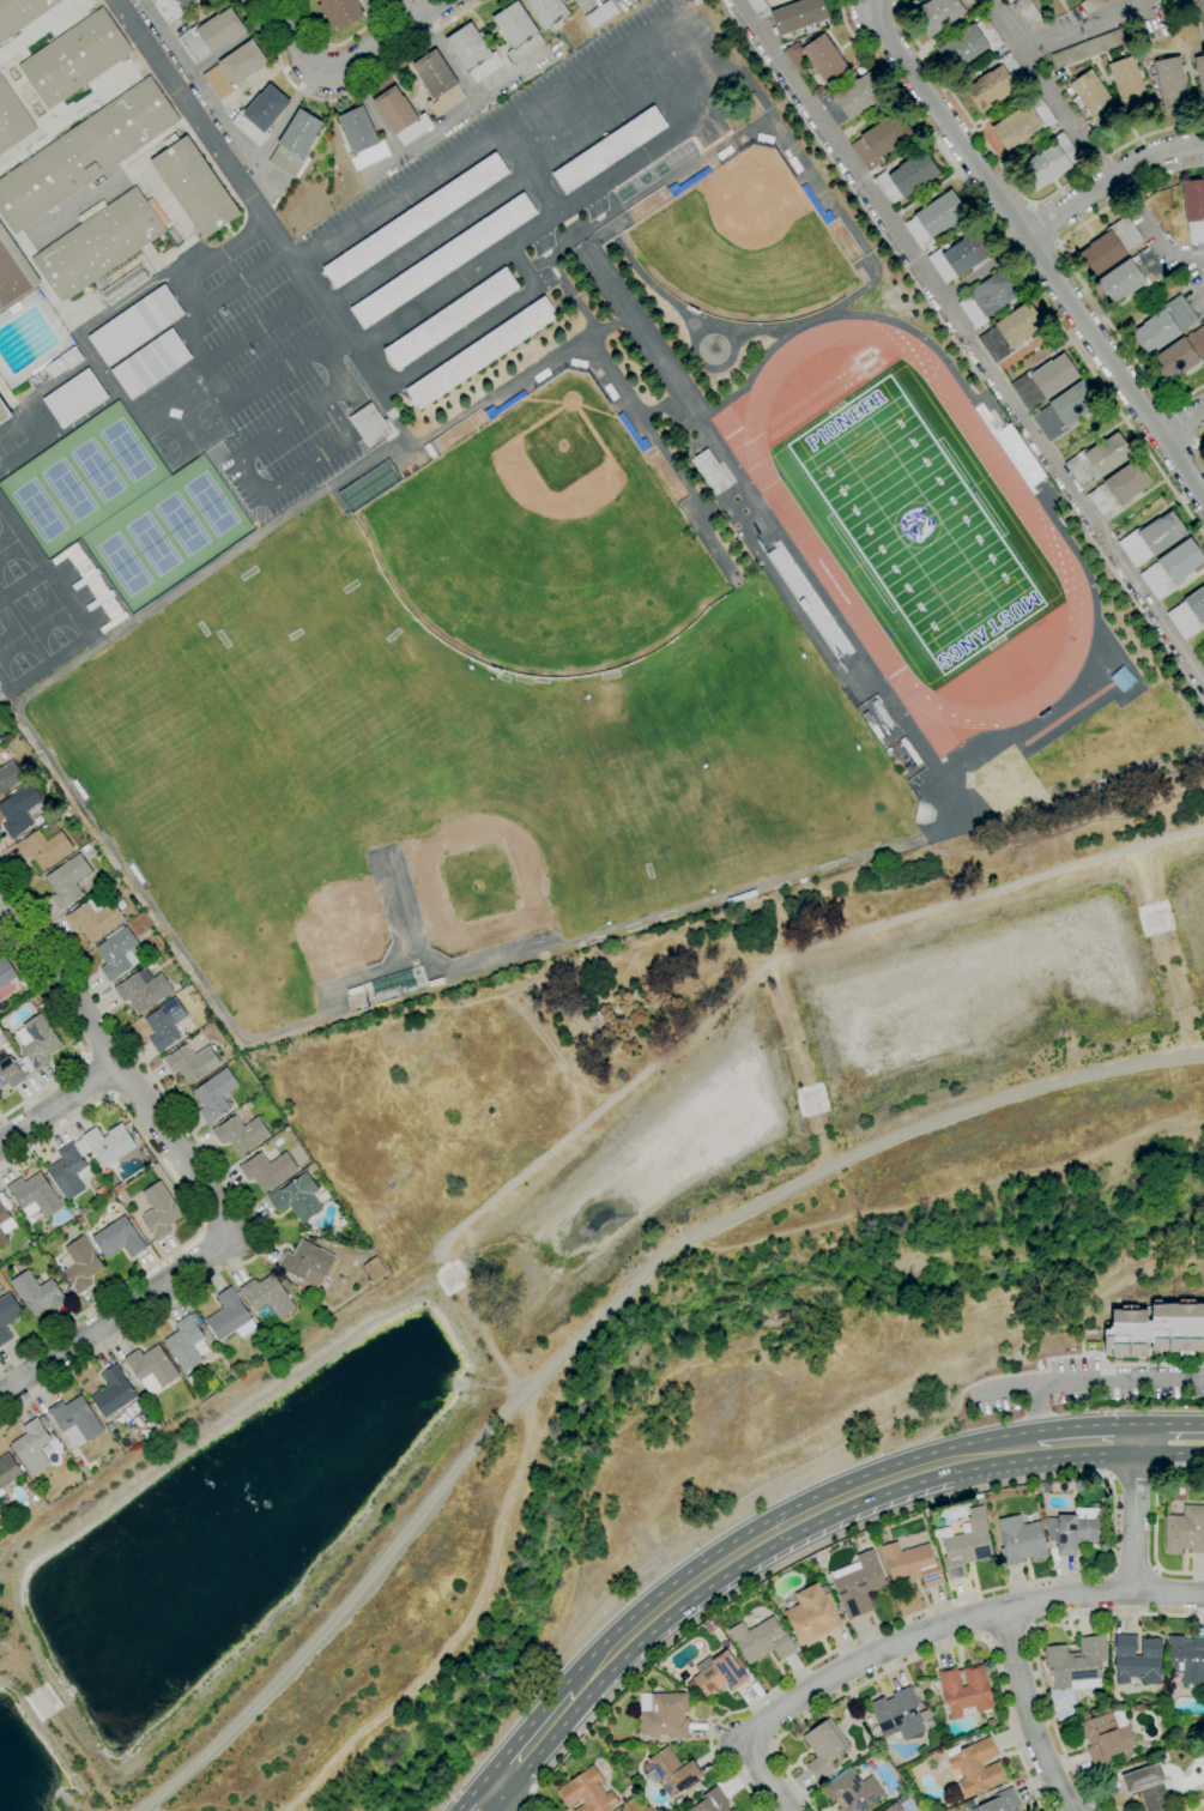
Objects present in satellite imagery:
building: (756, 5)
building: (1091, 5)
building: (171, 7)
road: (400, 11)
building: (340, 12)
building: (547, 12)
building: (1200, 12)
building: (20, 13)
building: (943, 13)
building: (1028, 13)
building: (600, 14)
building: (798, 16)
road: (1081, 29)
road: (697, 31)
building: (518, 32)
building: (211, 35)
road: (344, 42)
building: (969, 44)
building: (1090, 47)
building: (473, 53)
building: (74, 58)
building: (824, 59)
building: (794, 60)
road: (346, 64)
building: (234, 68)
building: (1199, 74)
building: (1127, 80)
building: (437, 82)
building: (997, 85)
building: (1170, 86)
road: (1048, 90)
road: (696, 91)
road: (350, 95)
building: (852, 98)
building: (1096, 99)
building: (68, 105)
building: (261, 114)
building: (400, 115)
building: (12, 119)
building: (1023, 122)
building: (361, 138)
building: (881, 139)
building: (295, 143)
building: (609, 150)
building: (83, 153)
building: (1049, 162)
road: (527, 173)
building: (906, 177)
road: (1109, 180)
road: (1014, 183)
building: (194, 187)
road: (248, 195)
building: (1194, 210)
building: (934, 218)
building: (416, 219)
road: (533, 229)
building: (173, 235)
building: (99, 243)
park: (743, 243)
building: (1111, 246)
road: (223, 250)
road: (1034, 250)
road: (1169, 250)
parking lot: (437, 252)
building: (960, 256)
building: (443, 260)
road: (1020, 266)
road: (521, 267)
road: (984, 271)
building: (13, 272)
road: (1076, 273)
road: (1196, 273)
building: (1131, 276)
building: (125, 284)
road: (232, 285)
road: (189, 294)
building: (988, 297)
building: (450, 319)
road: (260, 324)
building: (135, 325)
building: (1164, 325)
building: (1010, 331)
road: (461, 339)
road: (969, 342)
building: (480, 354)
building: (1180, 355)
building: (71, 357)
road: (207, 362)
building: (151, 363)
road: (333, 363)
road: (288, 364)
building: (55, 368)
building: (37, 378)
building: (1043, 381)
road: (335, 390)
building: (74, 398)
building: (1064, 410)
building: (4, 412)
road: (339, 415)
road: (1181, 423)
building: (369, 424)
road: (280, 425)
park: (188, 434)
road: (1198, 447)
park: (126, 448)
building: (1097, 460)
road: (308, 464)
park: (98, 470)
building: (712, 470)
road: (250, 476)
building: (1118, 489)
park: (68, 490)
park: (211, 503)
park: (40, 509)
track: (792, 519)
park: (181, 524)
park: (916, 525)
building: (1151, 538)
park: (543, 541)
park: (153, 543)
park: (11, 556)
park: (122, 565)
building: (1172, 568)
building: (803, 604)
building: (1127, 609)
building: (1188, 614)
park: (46, 617)
building: (1203, 644)
park: (16, 646)
building: (878, 707)
building: (867, 719)
building: (885, 719)
building: (876, 732)
building: (0, 740)
building: (909, 750)
building: (895, 760)
building: (10, 777)
building: (62, 801)
building: (19, 810)
building: (44, 846)
park: (490, 851)
building: (90, 855)
building: (115, 880)
building: (67, 881)
park: (285, 898)
building: (120, 904)
building: (95, 917)
building: (117, 953)
building: (6, 971)
building: (181, 984)
building: (395, 985)
building: (143, 990)
building: (0, 992)
road: (710, 1009)
building: (164, 1024)
road: (74, 1038)
building: (36, 1043)
road: (84, 1057)
road: (117, 1062)
building: (190, 1062)
building: (8, 1071)
road: (99, 1075)
road: (110, 1095)
building: (214, 1095)
road: (59, 1103)
building: (240, 1134)
building: (109, 1145)
building: (267, 1170)
building: (69, 1171)
road: (223, 1179)
building: (34, 1196)
building: (297, 1197)
building: (11, 1205)
building: (4, 1208)
road: (192, 1208)
building: (159, 1211)
building: (77, 1212)
building: (80, 1220)
road: (202, 1227)
road: (219, 1231)
building: (2, 1237)
building: (117, 1238)
building: (307, 1263)
building: (79, 1264)
building: (374, 1269)
building: (37, 1293)
building: (267, 1299)
road: (117, 1314)
building: (7, 1316)
building: (229, 1316)
road: (597, 1320)
building: (1156, 1329)
building: (186, 1344)
building: (151, 1369)
building: (192, 1381)
road: (1087, 1381)
road: (1000, 1386)
building: (115, 1395)
building: (74, 1421)
road: (1167, 1425)
building: (109, 1426)
road: (1070, 1444)
building: (31, 1447)
road: (1167, 1455)
building: (78, 1462)
building: (7, 1474)
road: (1071, 1475)
road: (1135, 1478)
building: (30, 1486)
building: (1081, 1486)
building: (1046, 1487)
road: (1133, 1516)
road: (1155, 1522)
building: (1073, 1529)
building: (1185, 1531)
road: (767, 1537)
building: (1021, 1540)
building: (964, 1544)
building: (912, 1563)
road: (1111, 1569)
road: (1155, 1569)
road: (1133, 1570)
building: (857, 1583)
building: (788, 1605)
building: (812, 1614)
building: (709, 1625)
road: (916, 1636)
building: (761, 1640)
road: (1033, 1647)
road: (920, 1658)
building: (1185, 1658)
building: (1137, 1659)
building: (1077, 1664)
building: (718, 1674)
building: (932, 1685)
building: (682, 1689)
building: (964, 1691)
building: (1099, 1694)
building: (664, 1714)
building: (897, 1714)
road: (1033, 1714)
building: (1060, 1714)
building: (928, 1725)
building: (1106, 1735)
building: (972, 1739)
building: (646, 1741)
road: (537, 1745)
building: (653, 1746)
building: (824, 1747)
building: (595, 1759)
building: (975, 1767)
building: (671, 1773)
building: (1148, 1787)
building: (692, 1789)
building: (852, 1791)
building: (587, 1793)
road: (489, 1800)
road: (507, 1800)
building: (712, 1801)
building: (972, 1803)
building: (999, 1803)
road: (526, 1804)
building: (894, 1807)
park: (1194, 1807)
building: (731, 1810)

